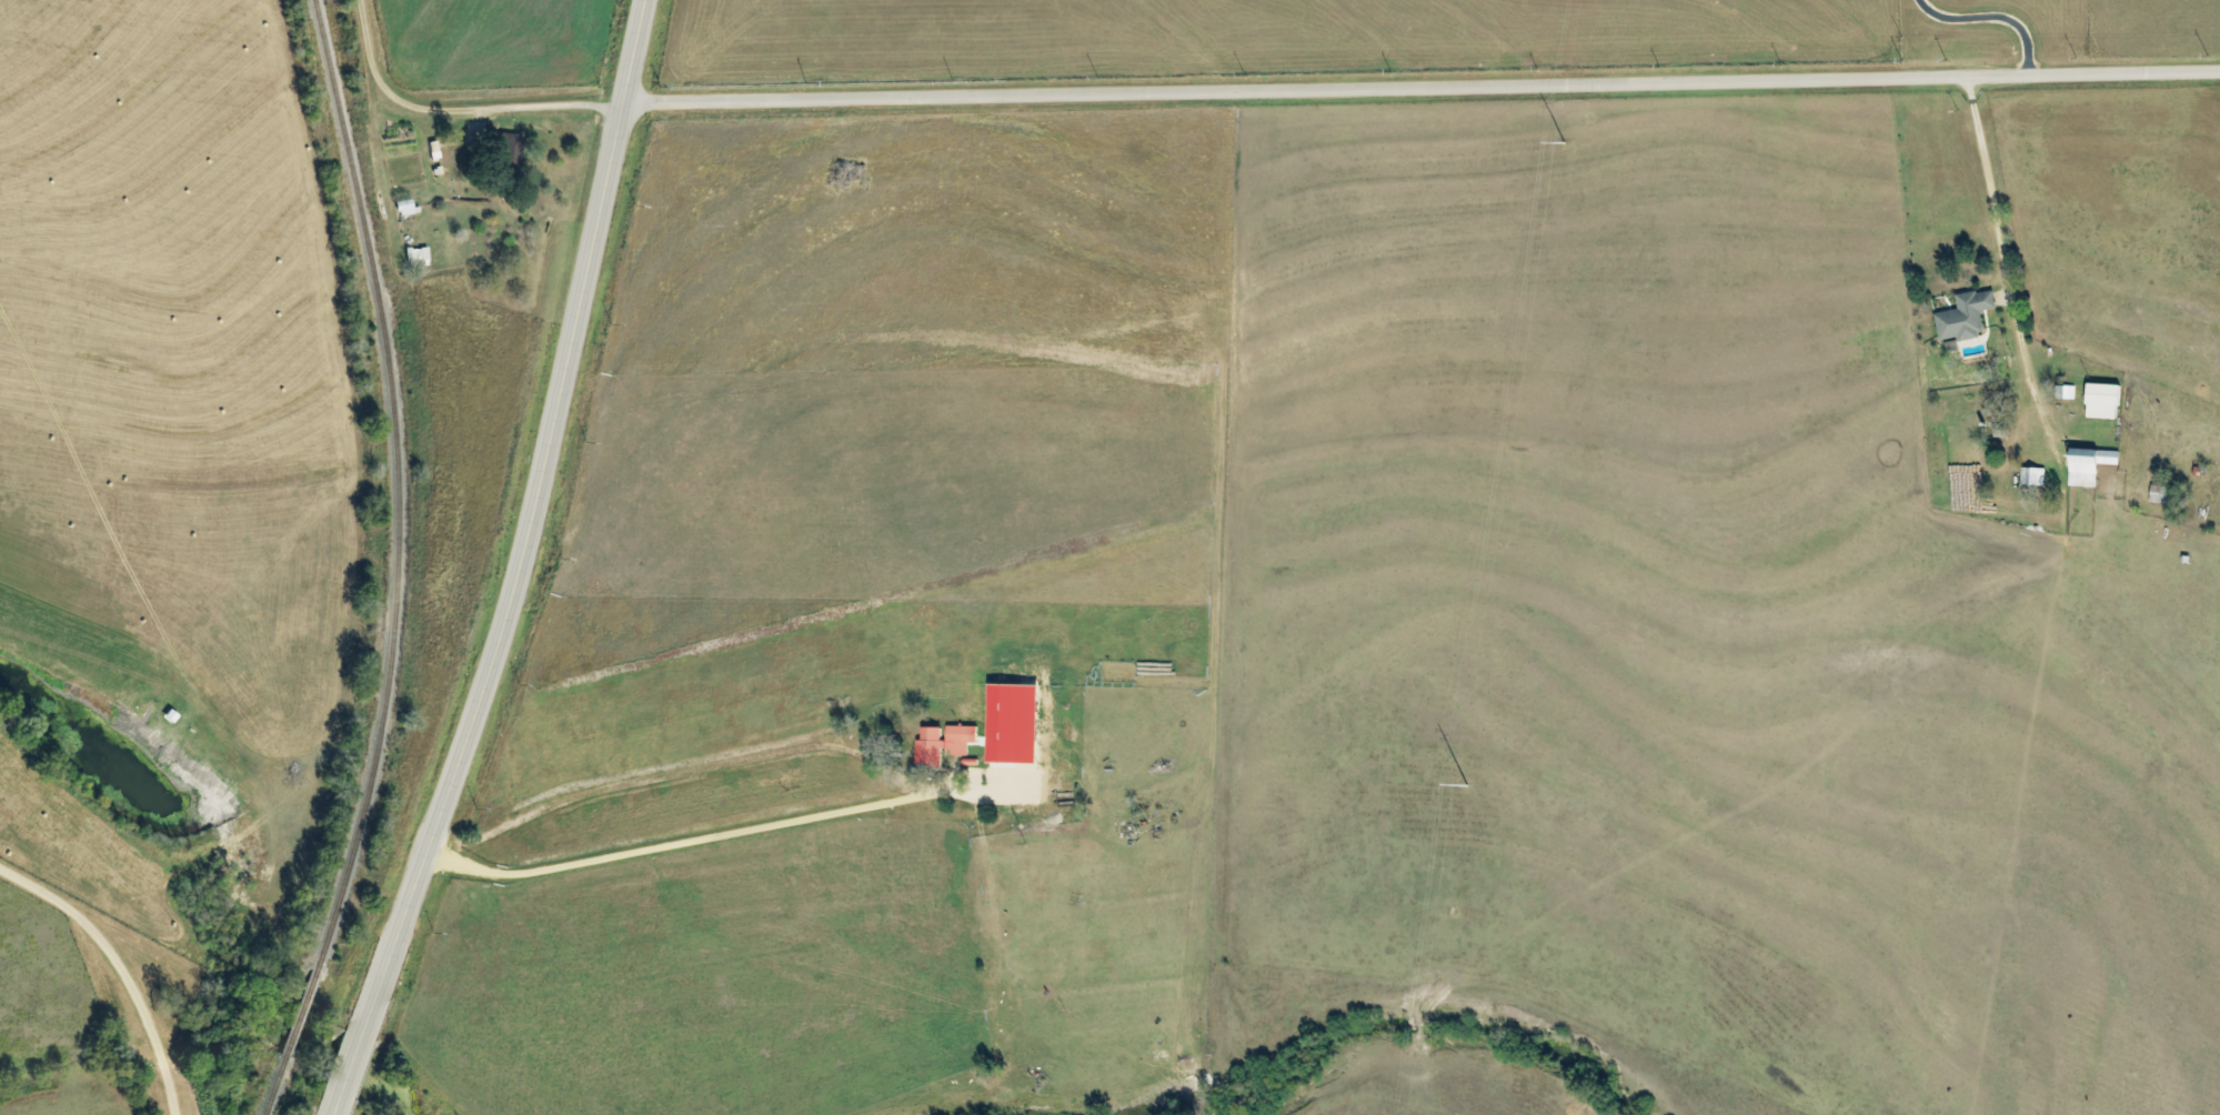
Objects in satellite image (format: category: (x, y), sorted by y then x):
road: (1423, 84)
road: (461, 109)
power tower: (1561, 144)
building: (508, 149)
building: (415, 254)
road: (2003, 264)
building: (1965, 315)
building: (2063, 391)
building: (2101, 401)
building: (2088, 464)
building: (2031, 475)
road: (541, 478)
railway: (394, 562)
building: (1015, 722)
building: (943, 743)
road: (651, 780)
power tower: (1465, 786)
road: (663, 847)
road: (125, 965)
road: (362, 1029)

